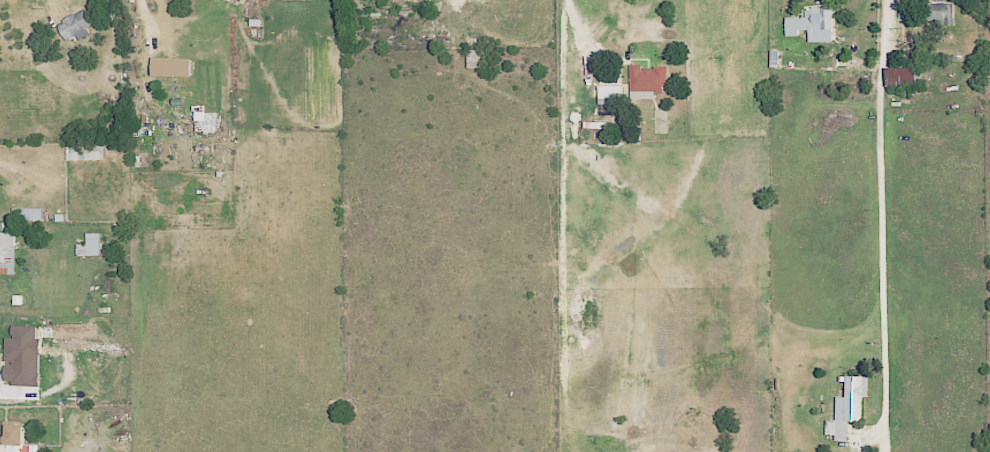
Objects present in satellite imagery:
building: (941, 11)
road: (147, 22)
building: (78, 24)
building: (814, 24)
road: (577, 27)
building: (173, 66)
building: (903, 75)
building: (648, 79)
building: (610, 93)
building: (208, 117)
building: (86, 152)
road: (881, 204)
building: (91, 245)
building: (7, 252)
building: (69, 330)
building: (24, 356)
road: (38, 402)
building: (850, 406)
building: (18, 440)

